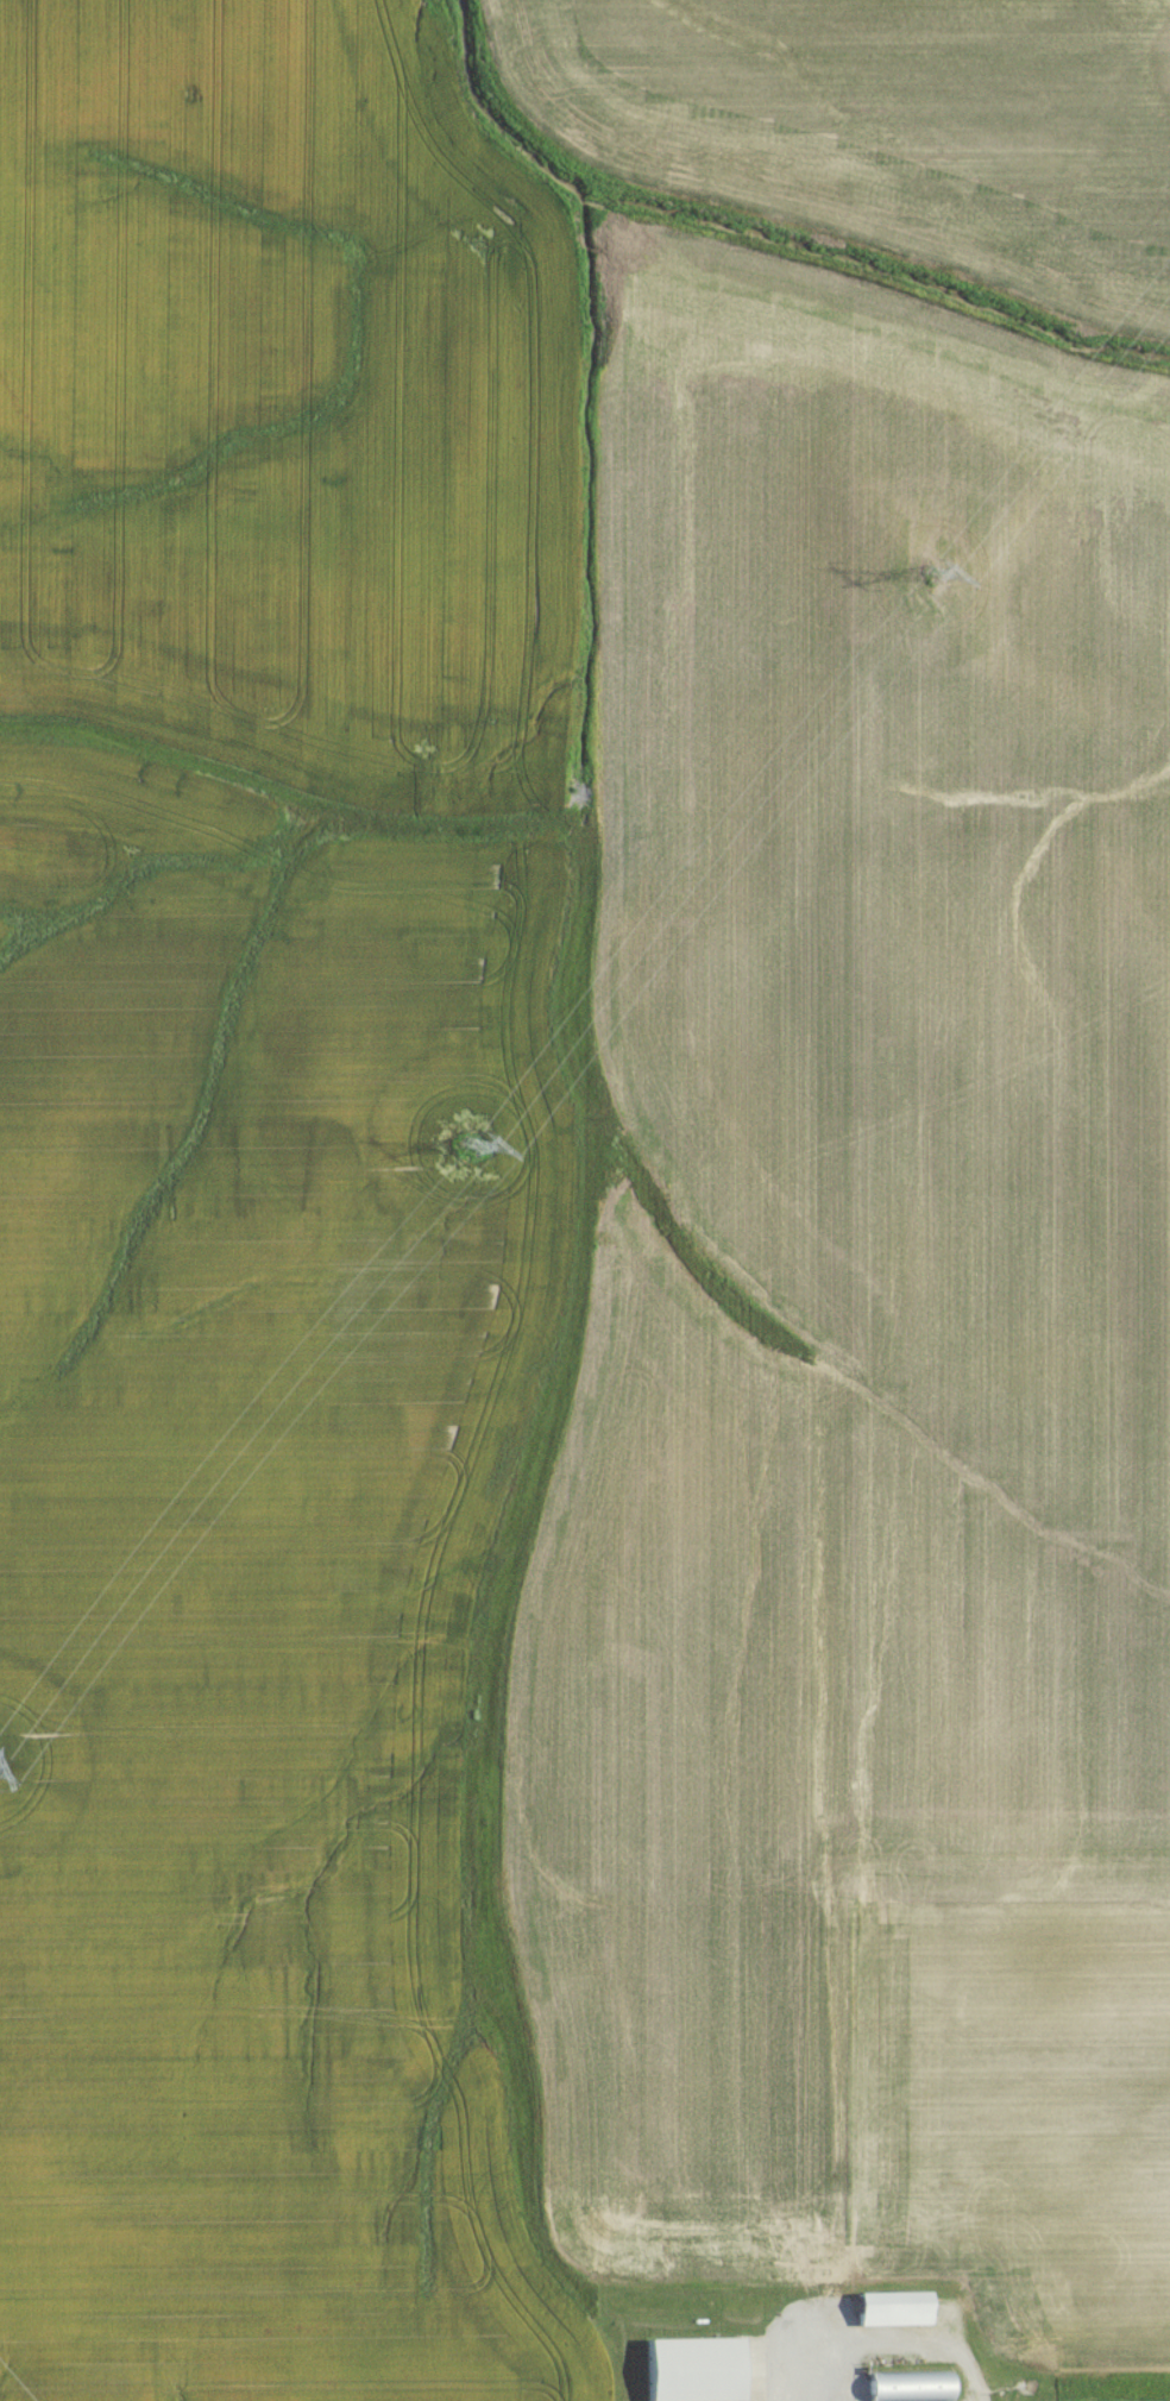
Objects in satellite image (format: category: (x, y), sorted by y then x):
power tower: (918, 582)
power tower: (463, 1151)
building: (883, 2315)
building: (685, 2372)
building: (901, 2389)

